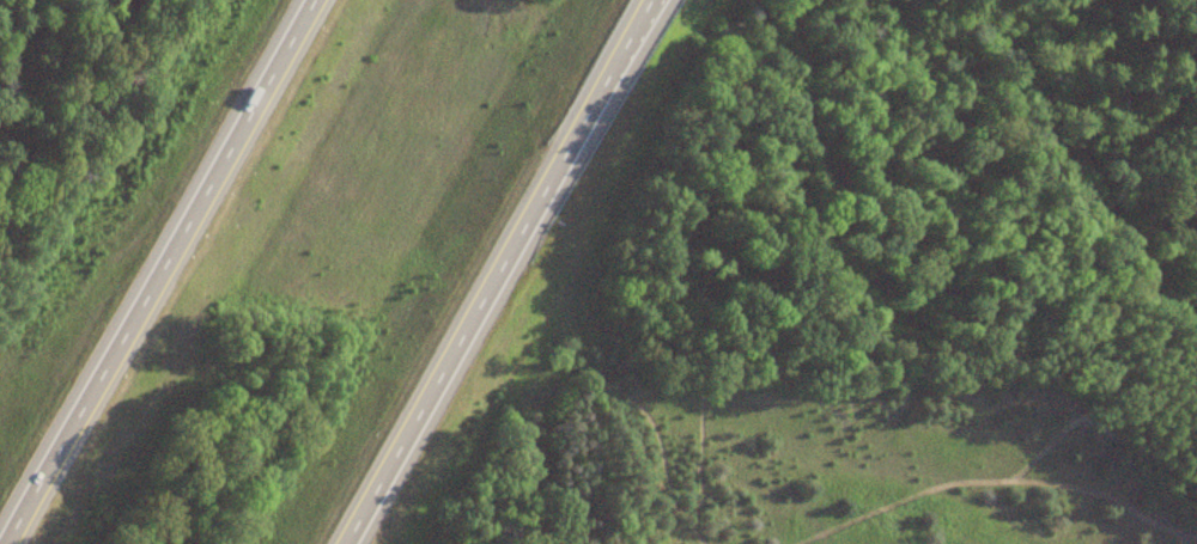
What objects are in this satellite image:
road: (156, 271)
road: (493, 271)

